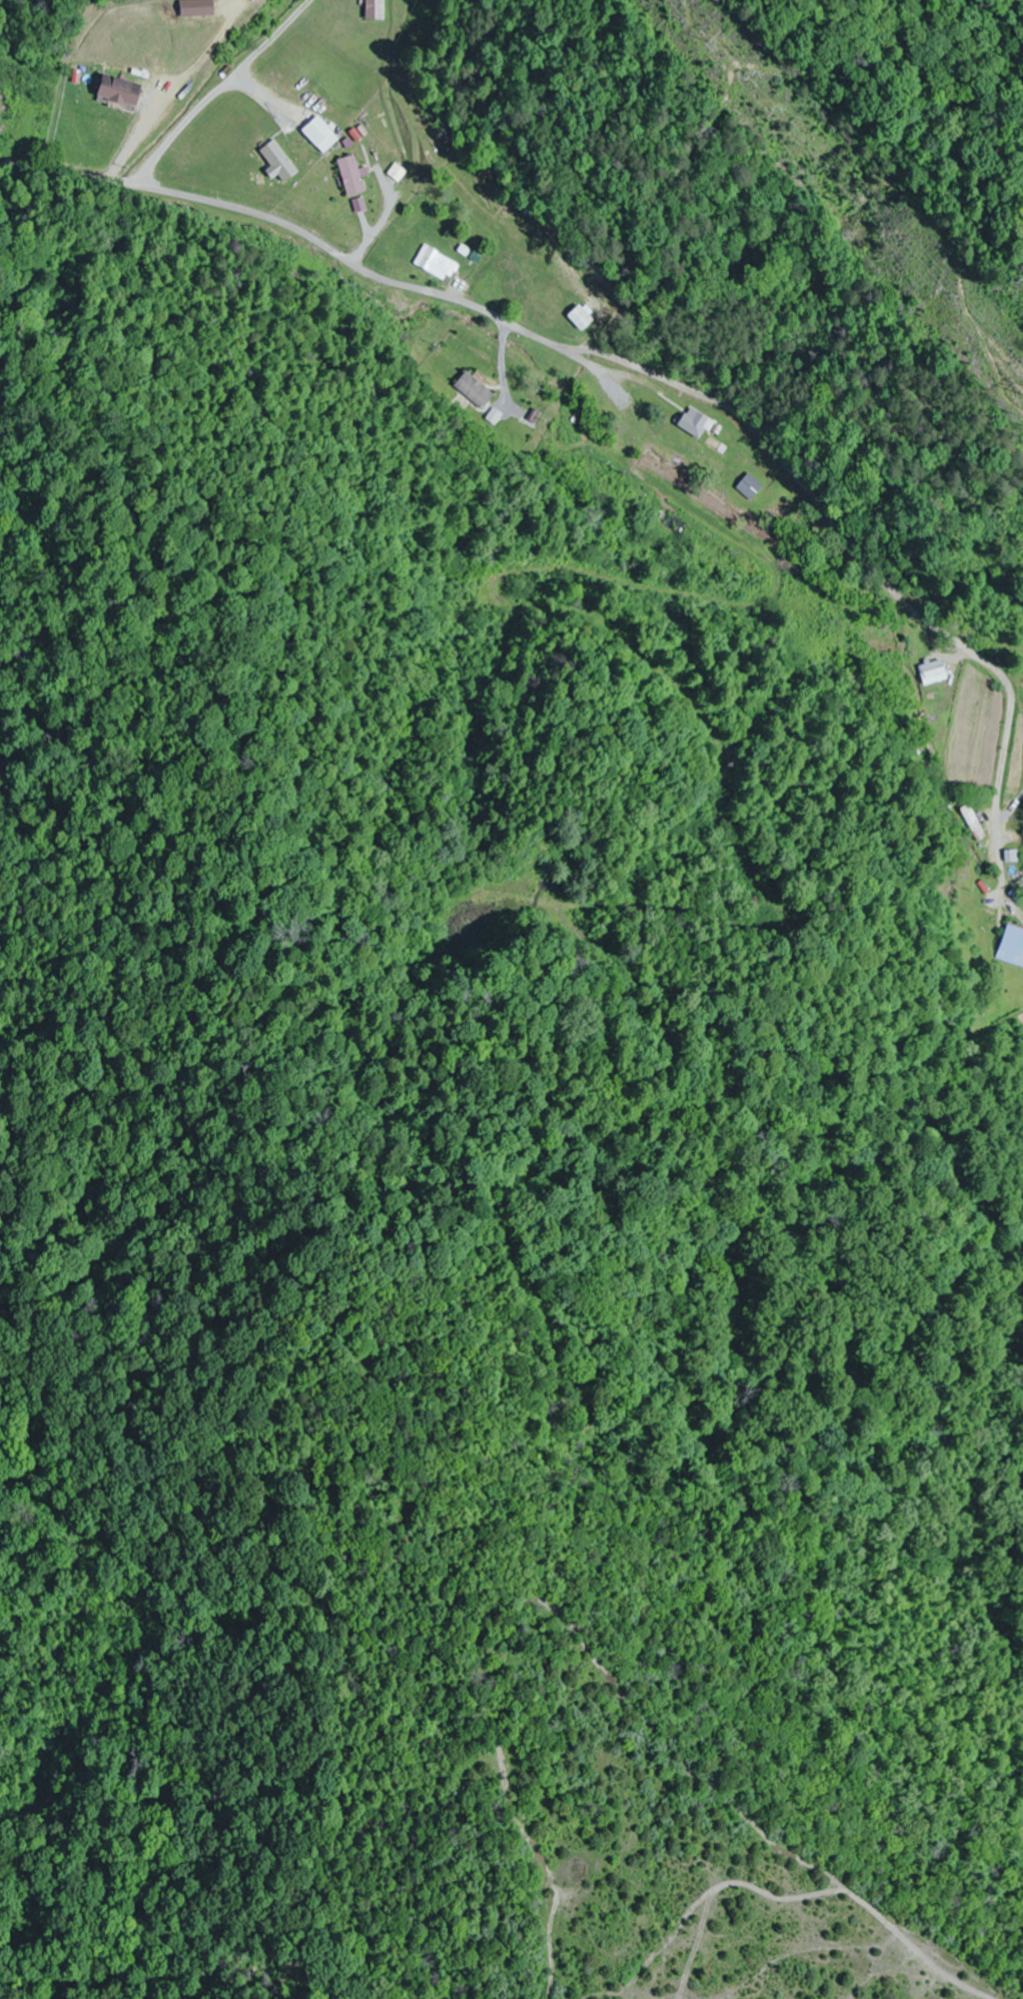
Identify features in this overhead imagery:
building: (234, 0)
building: (376, 10)
building: (121, 91)
road: (220, 91)
building: (323, 135)
building: (356, 187)
building: (438, 264)
building: (583, 318)
road: (640, 363)
building: (475, 390)
building: (698, 424)
building: (718, 445)
building: (751, 487)
building: (935, 673)
building: (973, 824)
building: (1013, 947)

